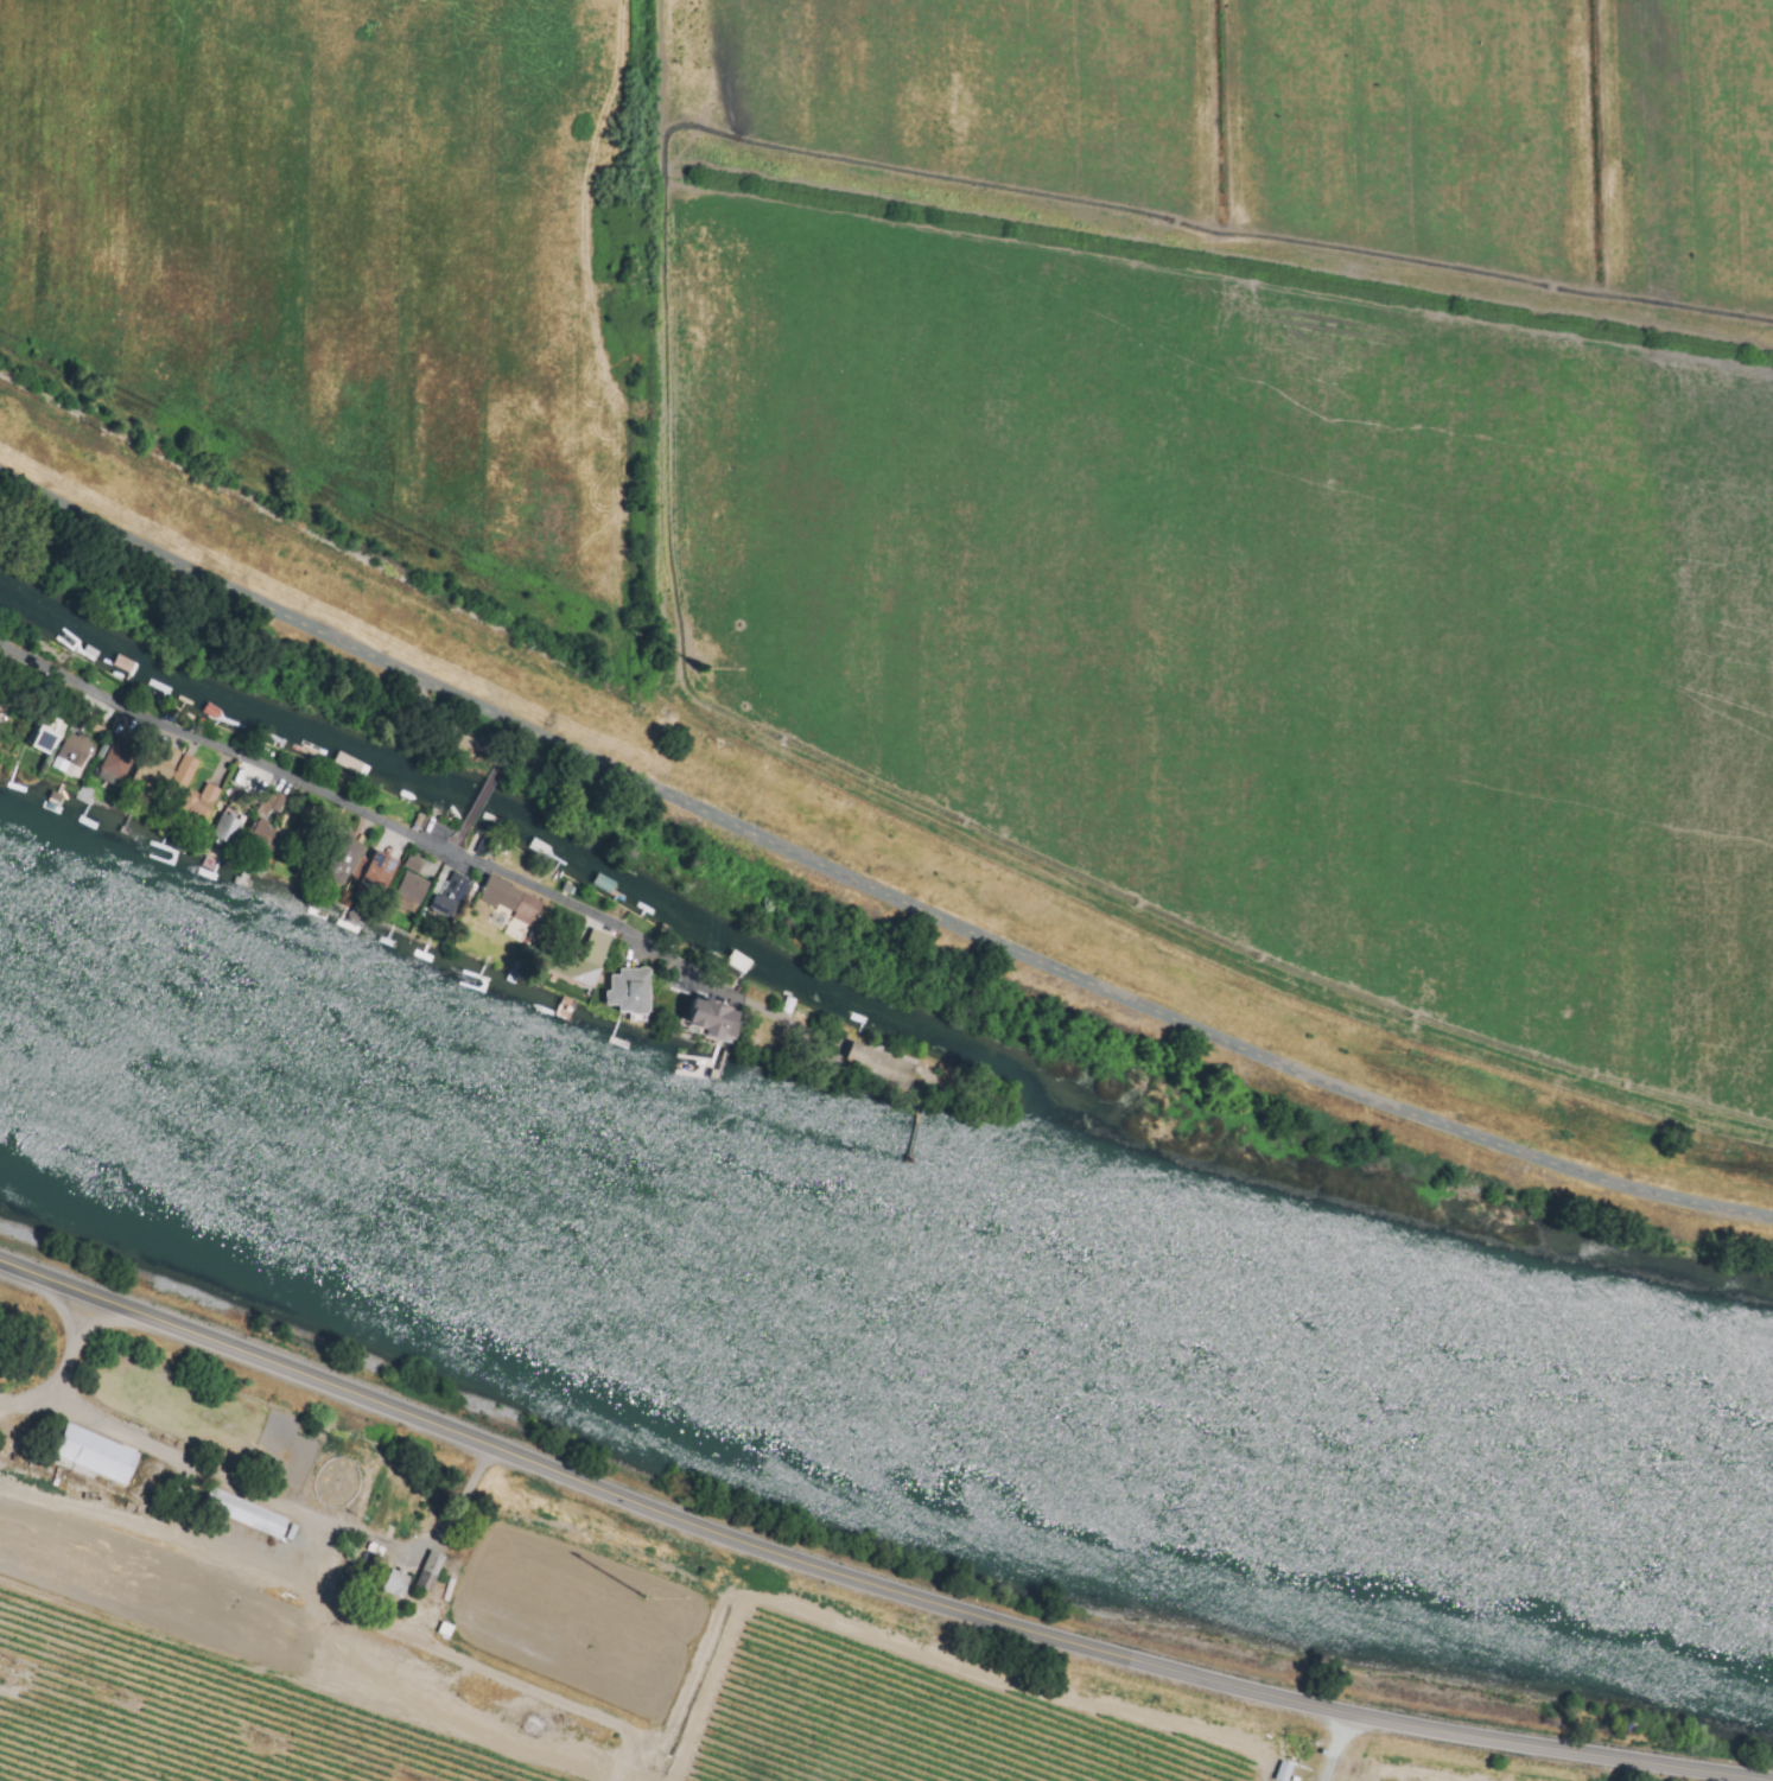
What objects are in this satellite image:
crop: (1010, 449)
road: (443, 731)
building: (47, 734)
building: (71, 751)
building: (119, 753)
building: (167, 762)
road: (498, 770)
building: (184, 771)
road: (570, 787)
building: (204, 800)
road: (479, 802)
road: (344, 812)
building: (259, 818)
building: (227, 827)
road: (457, 845)
building: (345, 860)
building: (412, 863)
building: (379, 872)
building: (412, 888)
road: (869, 889)
building: (450, 893)
building: (510, 899)
building: (590, 956)
building: (629, 991)
road: (769, 1012)
building: (716, 1019)
building: (872, 1060)
river: (872, 1271)
road: (65, 1380)
building: (95, 1455)
road: (297, 1512)
building: (244, 1513)
building: (427, 1571)
road: (868, 1584)
crop: (698, 1664)
road: (1340, 1748)
building: (1283, 1772)

